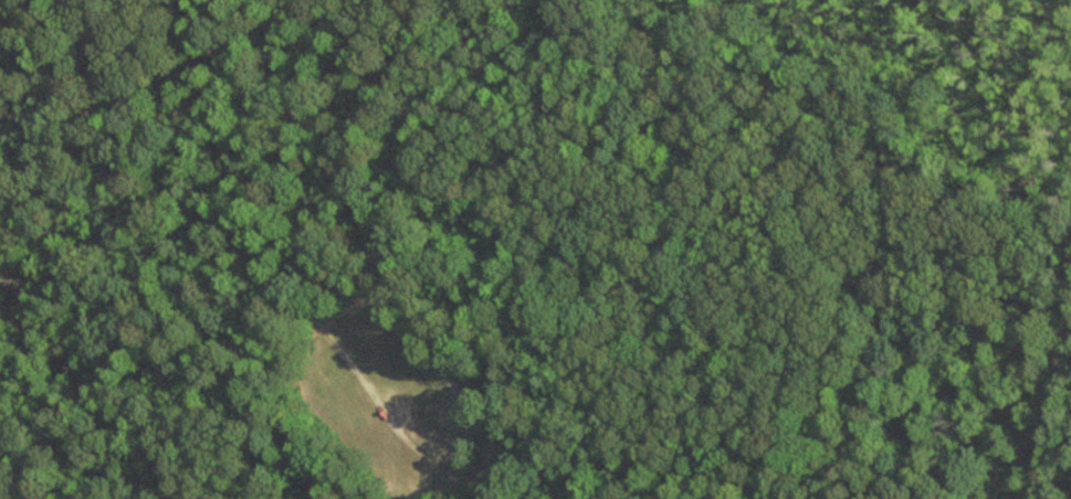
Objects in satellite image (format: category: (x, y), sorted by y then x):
road: (271, 236)
road: (1044, 371)

